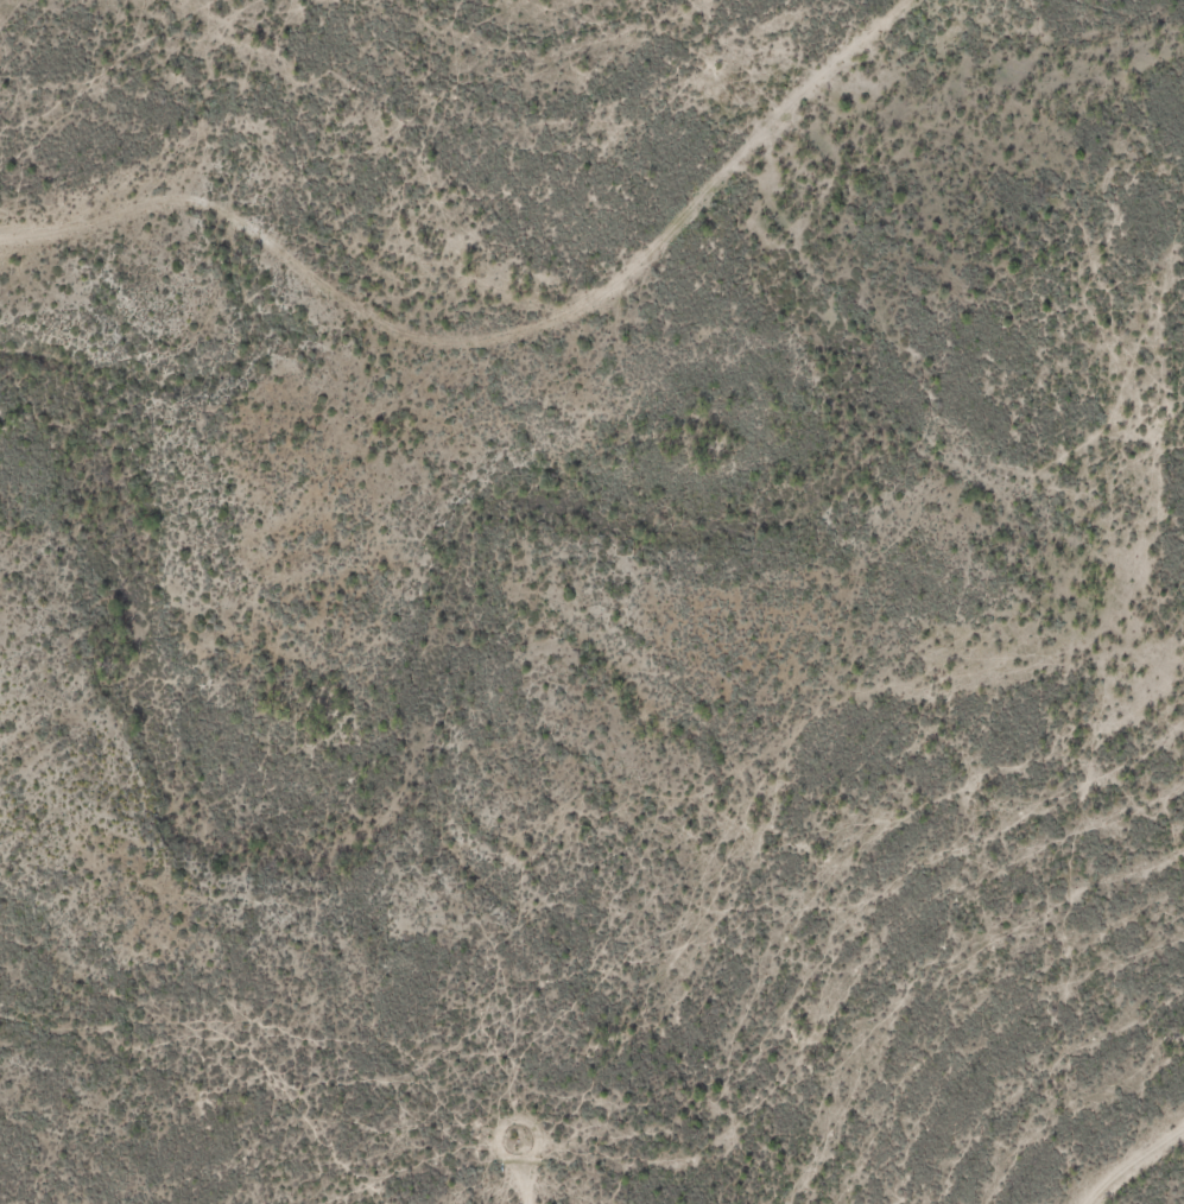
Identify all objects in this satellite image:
road: (1131, 1160)

